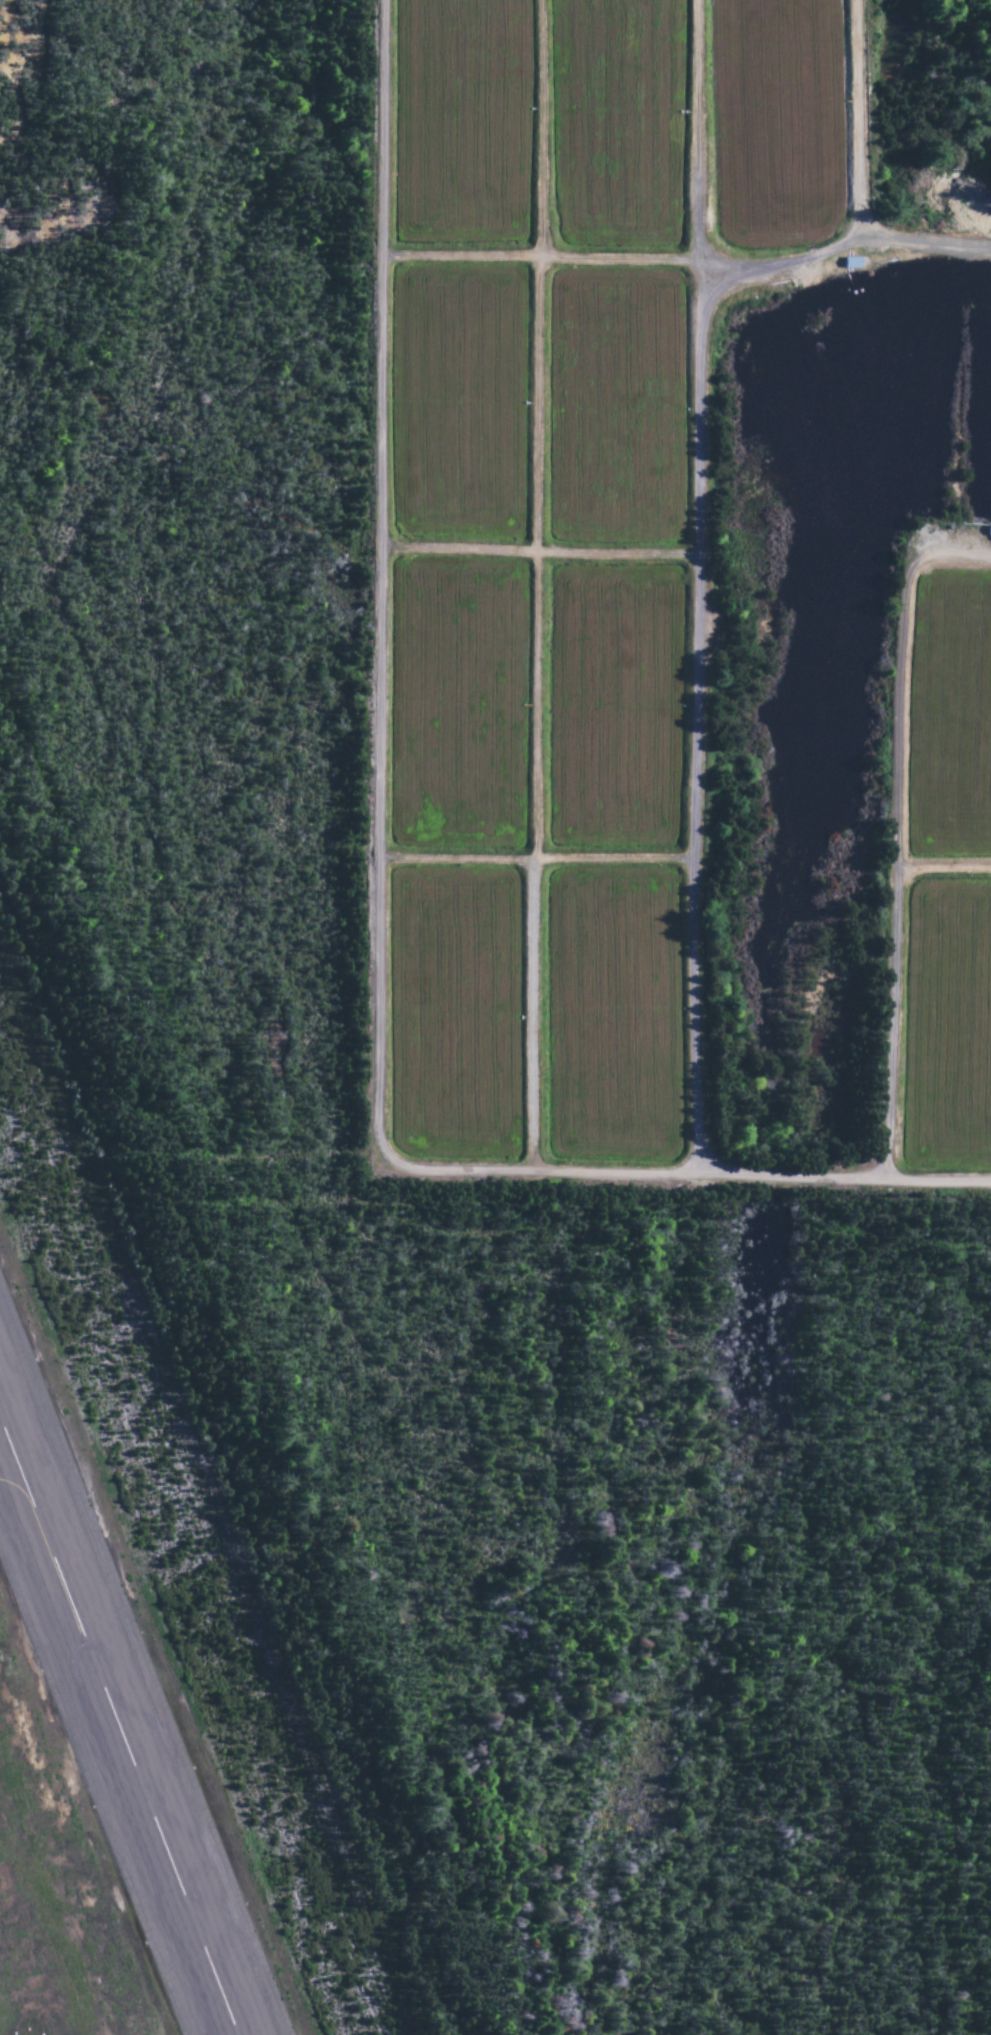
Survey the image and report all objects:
road: (15, 71)
crop: (616, 123)
crop: (460, 125)
crop: (776, 125)
crop: (458, 408)
crop: (616, 408)
crop: (453, 703)
crop: (614, 708)
crop: (951, 718)
crop: (455, 1016)
crop: (613, 1020)
crop: (948, 1031)
airport: (198, 1534)
airport runway: (119, 1726)

